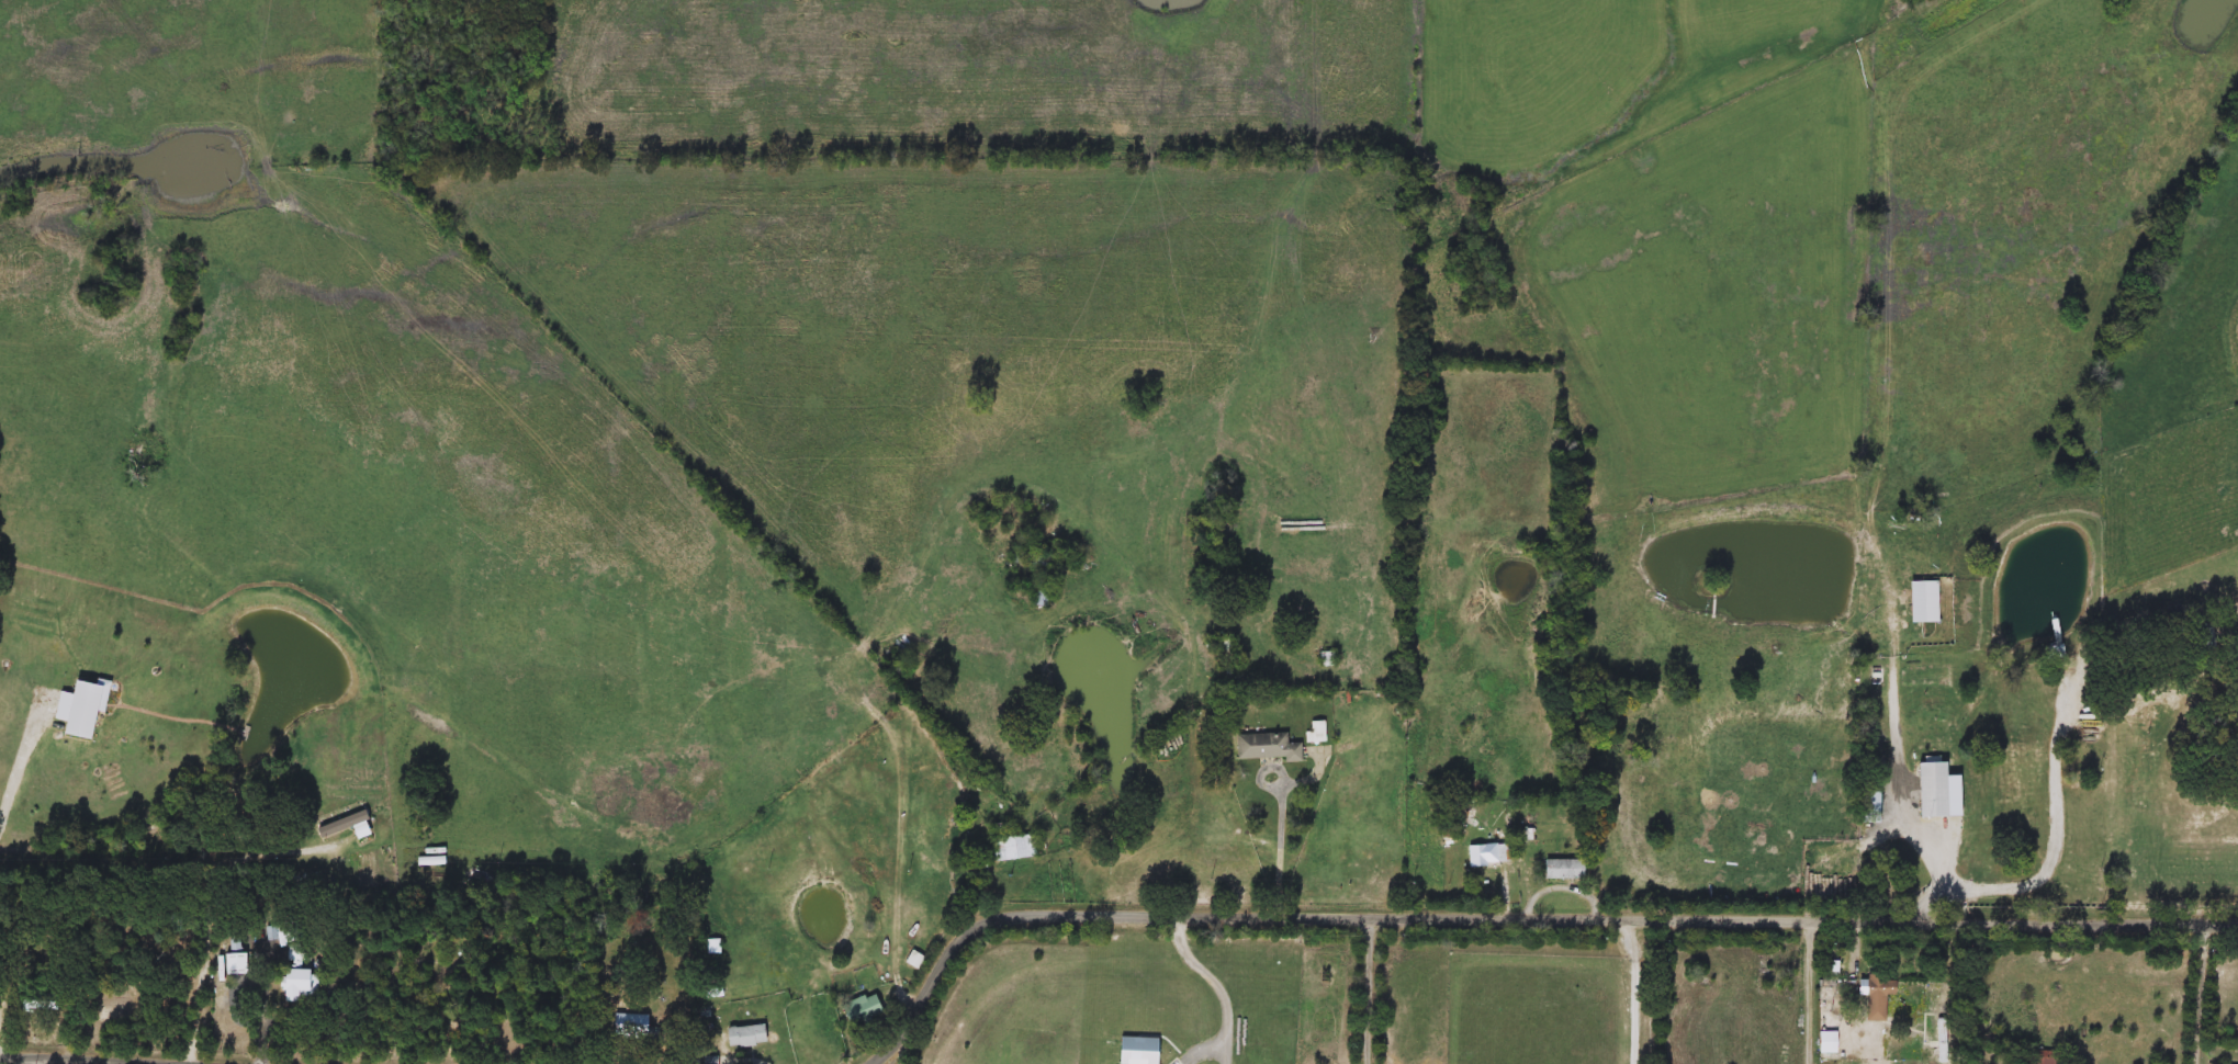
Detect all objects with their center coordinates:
building: (2214, 16)
building: (1038, 559)
building: (1042, 598)
building: (2206, 636)
building: (1224, 646)
building: (1267, 746)
road: (20, 773)
building: (1931, 789)
road: (1900, 793)
road: (2059, 844)
road: (1281, 845)
building: (1015, 847)
building: (1488, 853)
building: (1564, 869)
road: (1564, 881)
road: (1518, 914)
building: (290, 930)
building: (235, 943)
building: (716, 946)
road: (1214, 973)
building: (297, 982)
road: (1370, 987)
road: (1640, 989)
road: (1807, 991)
road: (2198, 993)
building: (1876, 995)
building: (866, 1007)
road: (263, 1016)
building: (630, 1026)
building: (749, 1035)
road: (1228, 1048)
road: (144, 1057)
building: (2046, 1057)

